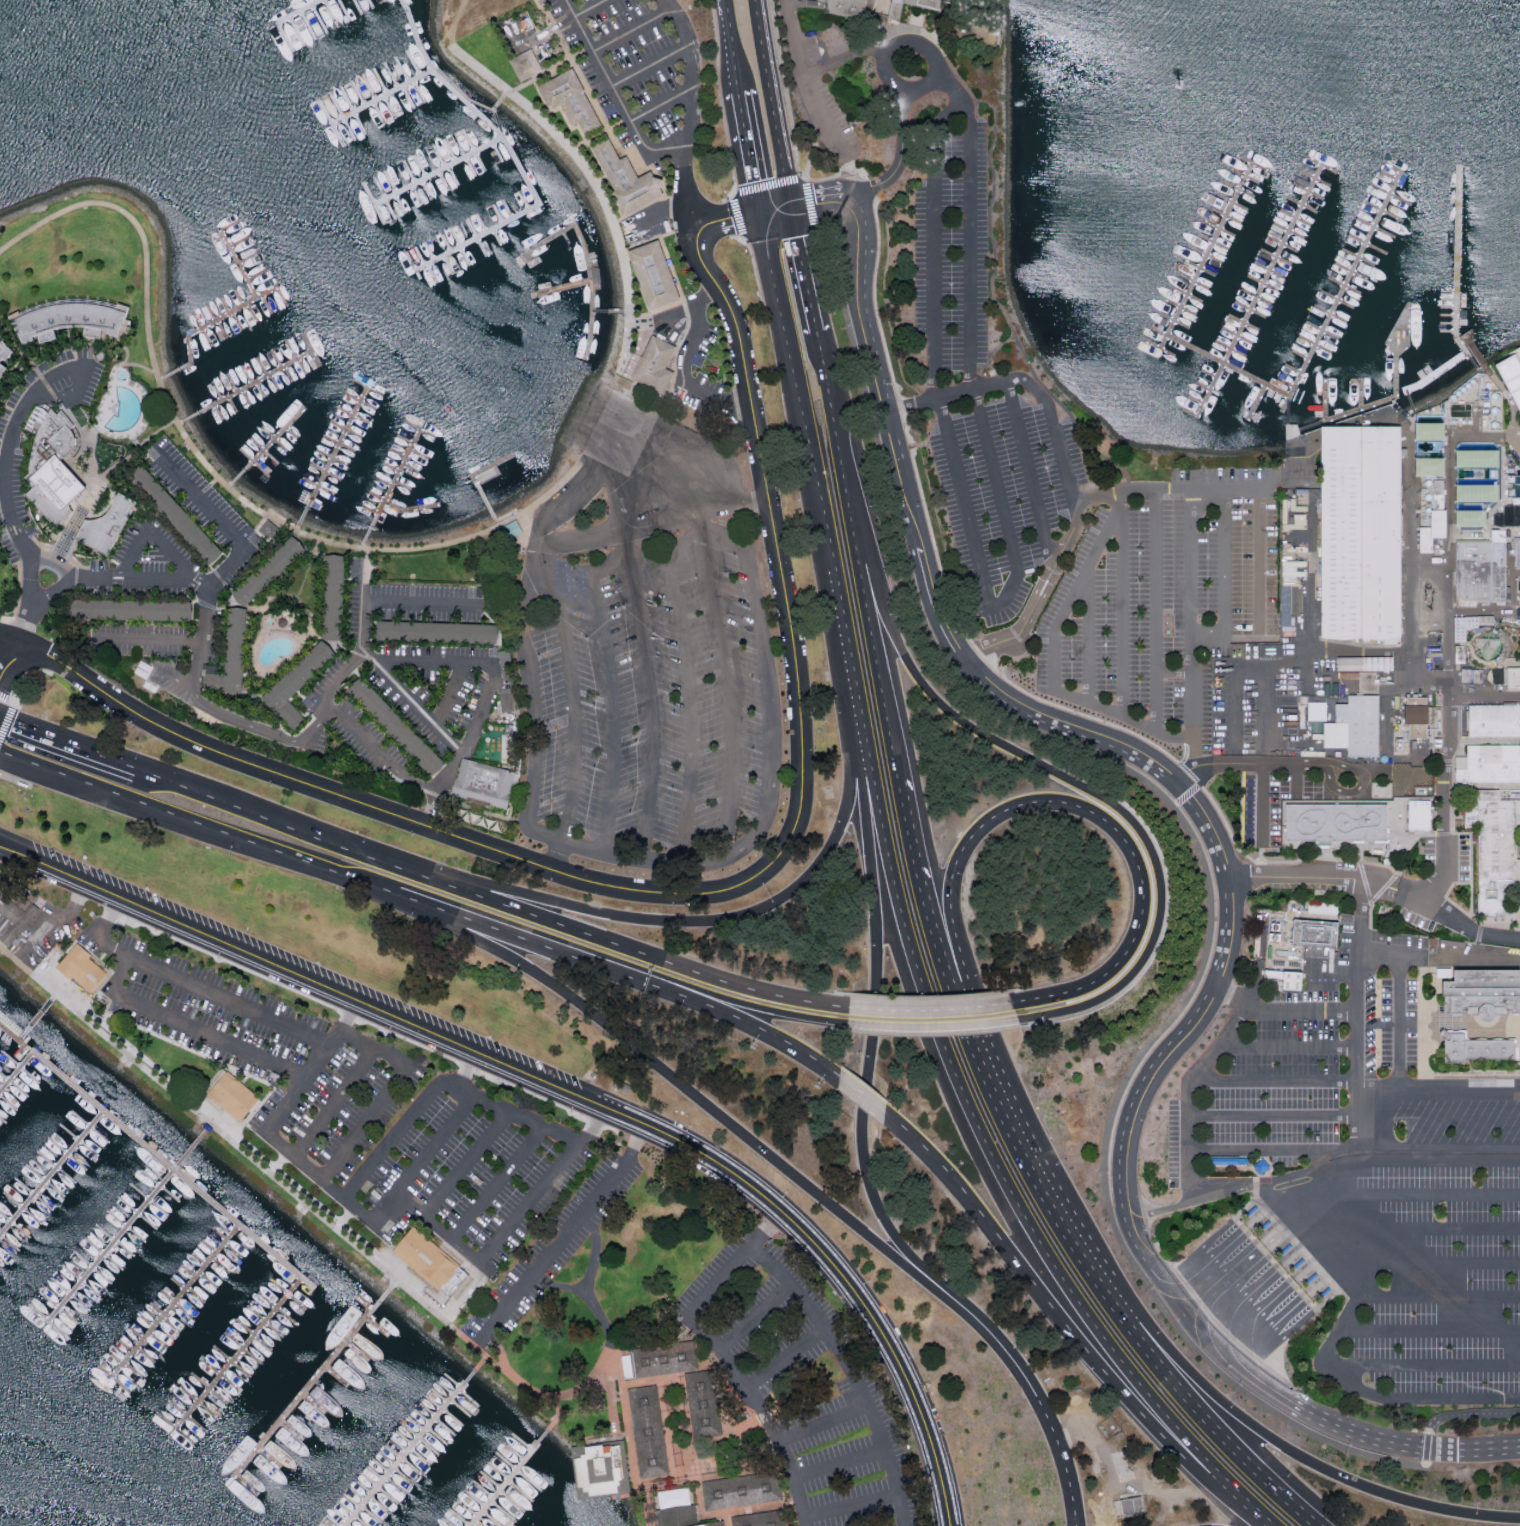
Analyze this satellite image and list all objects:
road: (591, 8)
building: (875, 12)
pier: (302, 13)
road: (635, 30)
road: (922, 31)
building: (978, 34)
road: (795, 38)
road: (734, 49)
road: (850, 58)
building: (524, 64)
road: (652, 65)
road: (550, 67)
parking lot: (636, 74)
aerialway pylon: (1176, 85)
road: (614, 87)
pier: (383, 99)
building: (567, 99)
road: (777, 102)
road: (663, 105)
road: (687, 111)
parking lot: (824, 123)
road: (600, 131)
road: (833, 136)
road: (903, 140)
road: (751, 154)
pier: (515, 156)
pier: (465, 158)
road: (808, 162)
pier: (1255, 163)
pier: (1324, 164)
road: (972, 167)
pier: (1395, 168)
pier: (1248, 176)
pier: (1391, 176)
road: (594, 177)
building: (624, 178)
pier: (1317, 178)
road: (743, 190)
pier: (1241, 190)
pier: (1311, 192)
pier: (1395, 196)
pier: (1235, 203)
pier: (1304, 204)
traffic signals: (793, 205)
road: (777, 208)
traffic signals: (762, 211)
pier: (1387, 212)
road: (733, 215)
pier: (1229, 216)
road: (659, 217)
pier: (1297, 218)
pier: (1378, 228)
pier: (1222, 229)
pier: (1291, 231)
road: (643, 242)
pier: (1215, 242)
pier: (1284, 244)
pier: (1370, 245)
park: (80, 249)
pier: (1207, 255)
pier: (1209, 255)
road: (803, 257)
pier: (1278, 257)
pier: (1361, 258)
pier: (1460, 261)
pier: (590, 264)
pier: (241, 265)
pier: (1202, 268)
pier: (1271, 270)
pier: (1354, 271)
building: (650, 274)
pier: (1196, 281)
pier: (1265, 282)
pier: (1347, 284)
pier: (1347, 285)
pier: (562, 287)
pier: (1261, 291)
pier: (1452, 291)
pier: (1189, 294)
pier: (1258, 296)
pier: (1340, 299)
pier: (1452, 299)
pier: (1183, 307)
pier: (1451, 307)
pier: (1252, 309)
pier: (604, 313)
pier: (1333, 313)
pier: (1451, 315)
building: (74, 318)
road: (815, 320)
pier: (1175, 320)
pier: (1246, 323)
pier: (1451, 323)
pier: (204, 327)
pier: (1325, 329)
road: (685, 330)
pier: (1161, 331)
pier: (1451, 331)
pier: (1403, 332)
pier: (1239, 335)
pier: (1318, 343)
pier: (1161, 348)
pier: (1233, 349)
road: (989, 353)
pier: (1302, 354)
building: (5, 356)
road: (686, 362)
road: (1496, 363)
building: (653, 364)
road: (936, 367)
pier: (1294, 368)
road: (1489, 368)
pier: (1443, 371)
pier: (1211, 374)
pier: (1249, 375)
road: (794, 377)
building: (1509, 381)
stadium: (1509, 381)
pier: (1288, 383)
pier: (245, 387)
pier: (1205, 387)
pier: (1364, 394)
road: (1041, 395)
road: (1054, 396)
pier: (1388, 399)
pier: (1328, 400)
pier: (1198, 401)
pier: (1259, 402)
road: (911, 403)
parking lot: (989, 403)
theme park: (1403, 406)
pier: (1287, 407)
road: (1511, 408)
pier: (1191, 414)
building: (1444, 415)
road: (13, 427)
road: (836, 429)
building: (1427, 431)
road: (1515, 441)
pier: (269, 447)
parking lot: (13, 454)
road: (660, 456)
pier: (332, 458)
building: (1475, 458)
road: (1290, 460)
building: (1427, 466)
road: (1447, 470)
building: (54, 471)
road: (1030, 473)
road: (100, 477)
road: (1288, 480)
road: (224, 484)
road: (919, 489)
pier: (477, 490)
pier: (391, 491)
road: (733, 499)
road: (1001, 500)
pier: (409, 511)
building: (176, 516)
road: (222, 522)
building: (108, 526)
building: (512, 528)
theme park: (1396, 528)
road: (255, 529)
building: (268, 529)
building: (1429, 534)
building: (1357, 537)
building: (1516, 556)
road: (128, 558)
road: (1260, 559)
road: (57, 566)
road: (311, 569)
building: (271, 572)
road: (1404, 574)
building: (1478, 575)
road: (183, 577)
road: (926, 579)
road: (1125, 580)
road: (1227, 580)
road: (364, 585)
road: (77, 587)
road: (1075, 593)
building: (1287, 593)
road: (1039, 594)
park: (0, 597)
building: (338, 599)
road: (555, 599)
parking lot: (1164, 600)
road: (715, 603)
road: (209, 606)
road: (228, 608)
road: (1159, 609)
building: (135, 612)
road: (1307, 618)
road: (25, 622)
road: (1193, 627)
building: (1467, 627)
road: (281, 634)
road: (1091, 635)
building: (439, 636)
road: (9, 639)
road: (1037, 639)
road: (169, 644)
road: (877, 644)
building: (1487, 646)
road: (347, 649)
road: (1519, 650)
road: (1306, 656)
building: (232, 657)
road: (372, 657)
road: (9, 659)
building: (1363, 667)
road: (1176, 670)
building: (1512, 681)
building: (296, 686)
road: (1267, 689)
road: (610, 691)
road: (330, 693)
road: (1487, 693)
road: (647, 694)
road: (1237, 696)
building: (502, 698)
parking lot: (650, 704)
road: (482, 707)
road: (1386, 708)
road: (7, 710)
building: (1316, 710)
road: (691, 713)
road: (1454, 713)
road: (332, 716)
building: (1413, 716)
building: (1493, 722)
road: (532, 723)
building: (1315, 726)
building: (1351, 728)
building: (398, 729)
road: (773, 732)
road: (46, 737)
road: (462, 749)
road: (386, 766)
building: (1493, 766)
road: (1259, 768)
road: (12, 779)
road: (1298, 781)
building: (484, 785)
road: (1080, 785)
road: (1351, 793)
road: (1184, 796)
road: (1264, 805)
parking lot: (1275, 805)
road: (241, 810)
road: (172, 813)
road: (1090, 813)
building: (1417, 818)
building: (1334, 826)
road: (1190, 838)
building: (1492, 843)
road: (1259, 851)
road: (1294, 879)
road: (923, 880)
road: (1362, 883)
road: (379, 887)
road: (706, 892)
toll booth: (1394, 902)
road: (770, 903)
building: (13, 910)
road: (62, 915)
road: (1467, 931)
building: (1313, 937)
road: (617, 946)
road: (1394, 958)
road: (1473, 963)
road: (1336, 969)
building: (84, 970)
road: (282, 970)
road: (632, 977)
building: (1286, 978)
road: (1359, 987)
road: (213, 993)
building: (1479, 994)
road: (1228, 996)
road: (767, 1010)
road: (932, 1010)
road: (1428, 1021)
road: (1378, 1023)
road: (1450, 1023)
road: (1389, 1024)
road: (1399, 1025)
road: (1450, 1026)
pier: (30, 1027)
road: (192, 1027)
road: (1428, 1028)
road: (935, 1029)
road: (1489, 1033)
road: (1178, 1040)
road: (1216, 1045)
road: (1286, 1047)
building: (1471, 1050)
road: (867, 1058)
road: (948, 1063)
road: (1420, 1069)
pier: (16, 1073)
road: (1272, 1081)
road: (1459, 1091)
road: (1380, 1092)
road: (865, 1095)
road: (698, 1097)
building: (232, 1098)
road: (332, 1100)
road: (1277, 1116)
road: (1367, 1119)
road: (1014, 1122)
road: (545, 1127)
road: (401, 1128)
road: (1348, 1149)
road: (1258, 1150)
road: (1443, 1150)
pier: (176, 1153)
road: (462, 1159)
building: (1224, 1161)
road: (1318, 1161)
road: (1415, 1162)
road: (416, 1163)
building: (1258, 1166)
road: (331, 1168)
road: (947, 1172)
parking lot: (1370, 1174)
pier: (50, 1175)
road: (496, 1181)
road: (1426, 1193)
road: (1217, 1196)
road: (296, 1199)
road: (1272, 1208)
toll booth: (1246, 1209)
road: (1287, 1209)
street lamp: (1513, 1211)
pier: (223, 1216)
toll booth: (1254, 1216)
toll booth: (1260, 1222)
road: (1321, 1224)
road: (1293, 1225)
toll booth: (1267, 1229)
road: (1303, 1231)
road: (1446, 1231)
toll booth: (1273, 1236)
road: (1314, 1237)
road: (561, 1238)
road: (1322, 1241)
toll booth: (1282, 1244)
road: (494, 1245)
road: (1330, 1245)
road: (1201, 1246)
pier: (109, 1247)
road: (1339, 1248)
road: (1217, 1251)
road: (820, 1252)
road: (1137, 1253)
road: (1348, 1253)
road: (1223, 1254)
toll booth: (1291, 1254)
road: (1351, 1256)
road: (1234, 1258)
toll booth: (1295, 1258)
building: (426, 1259)
road: (1413, 1261)
road: (1468, 1263)
toll booth: (1303, 1265)
road: (1360, 1265)
road: (1252, 1269)
toll booth: (1308, 1271)
road: (1260, 1278)
toll booth: (1317, 1279)
road: (1102, 1281)
road: (559, 1284)
toll booth: (1323, 1285)
road: (587, 1289)
road: (1255, 1293)
toll booth: (1330, 1293)
road: (1193, 1296)
road: (1441, 1296)
road: (1264, 1298)
pier: (173, 1301)
road: (1285, 1307)
street lamp: (1514, 1314)
road: (753, 1317)
road: (1263, 1317)
road: (1290, 1327)
road: (1430, 1332)
road: (1206, 1346)
street lamp: (1439, 1347)
road: (1267, 1353)
road: (722, 1357)
road: (784, 1358)
building: (664, 1359)
building: (626, 1365)
road: (1425, 1366)
road: (850, 1370)
road: (675, 1373)
road: (1114, 1379)
road: (1255, 1380)
road: (1267, 1382)
parking lot: (799, 1385)
pier: (309, 1387)
road: (1381, 1395)
road: (610, 1399)
building: (703, 1404)
road: (1043, 1409)
road: (1470, 1413)
road: (822, 1423)
road: (1217, 1429)
building: (647, 1431)
road: (629, 1444)
road: (1424, 1446)
road: (1426, 1446)
pier: (408, 1449)
road: (1304, 1457)
road: (839, 1465)
building: (601, 1469)
pier: (506, 1479)
road: (671, 1483)
building: (741, 1491)
road: (627, 1493)
road: (700, 1501)
building: (1130, 1504)
road: (849, 1506)
road: (1257, 1515)
building: (681, 1516)
road: (726, 1520)
building: (761, 1520)

